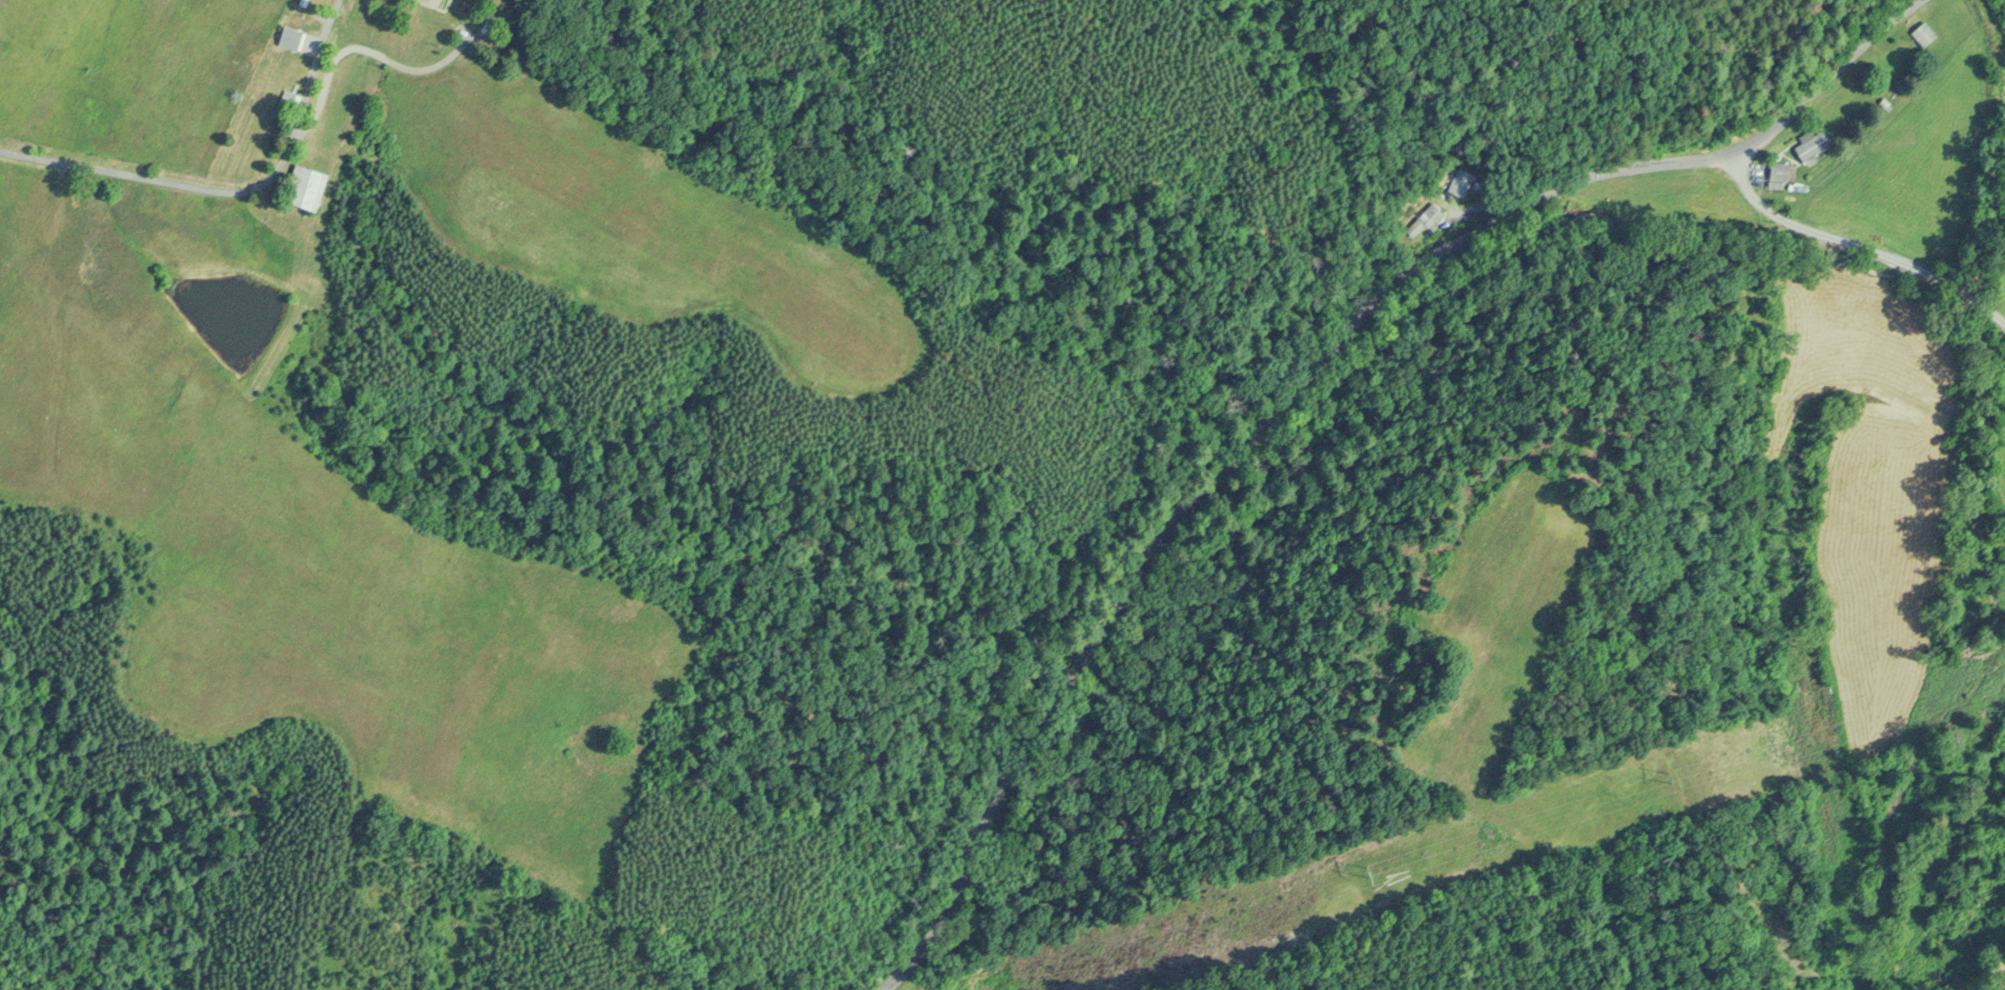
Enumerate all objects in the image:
building: (491, 25)
building: (1920, 32)
road: (362, 47)
road: (1829, 80)
road: (297, 120)
building: (1809, 143)
road: (107, 173)
building: (1776, 173)
building: (1459, 181)
building: (301, 185)
building: (1422, 218)
road: (1860, 253)
road: (1223, 472)
river: (1990, 975)

